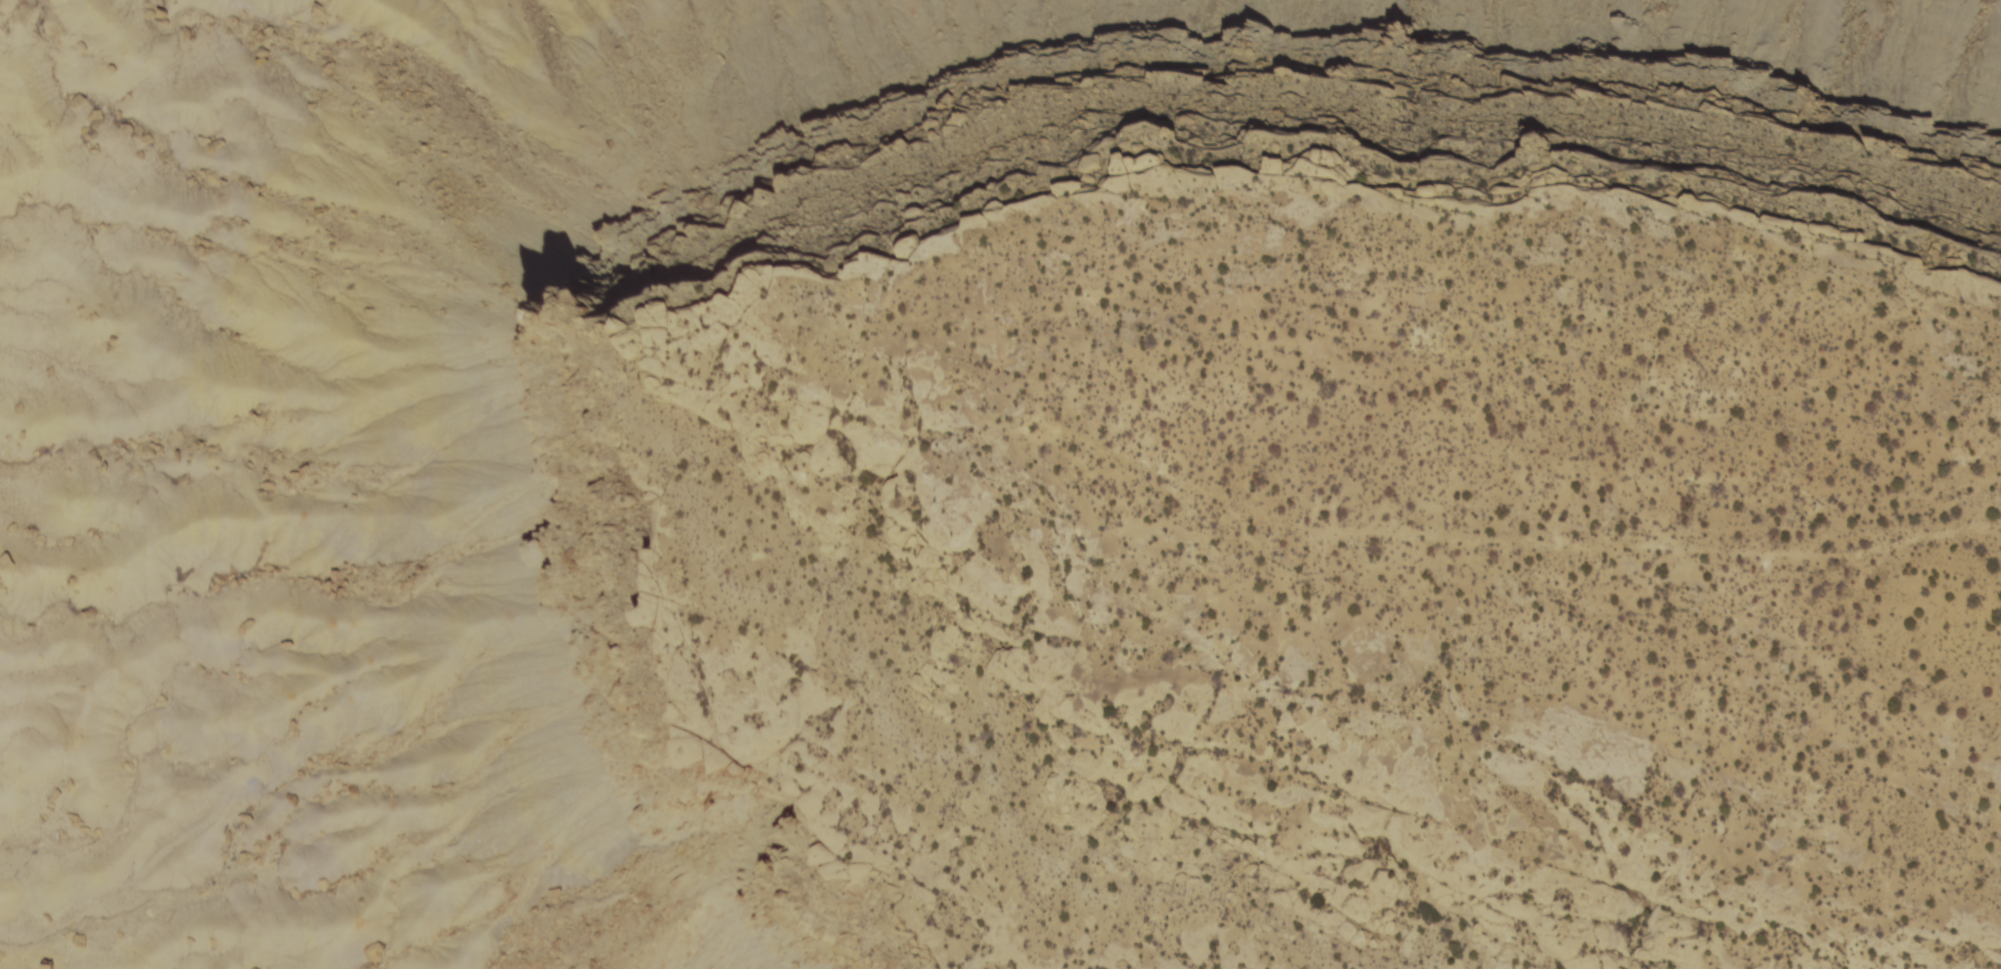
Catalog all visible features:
road: (1382, 559)

